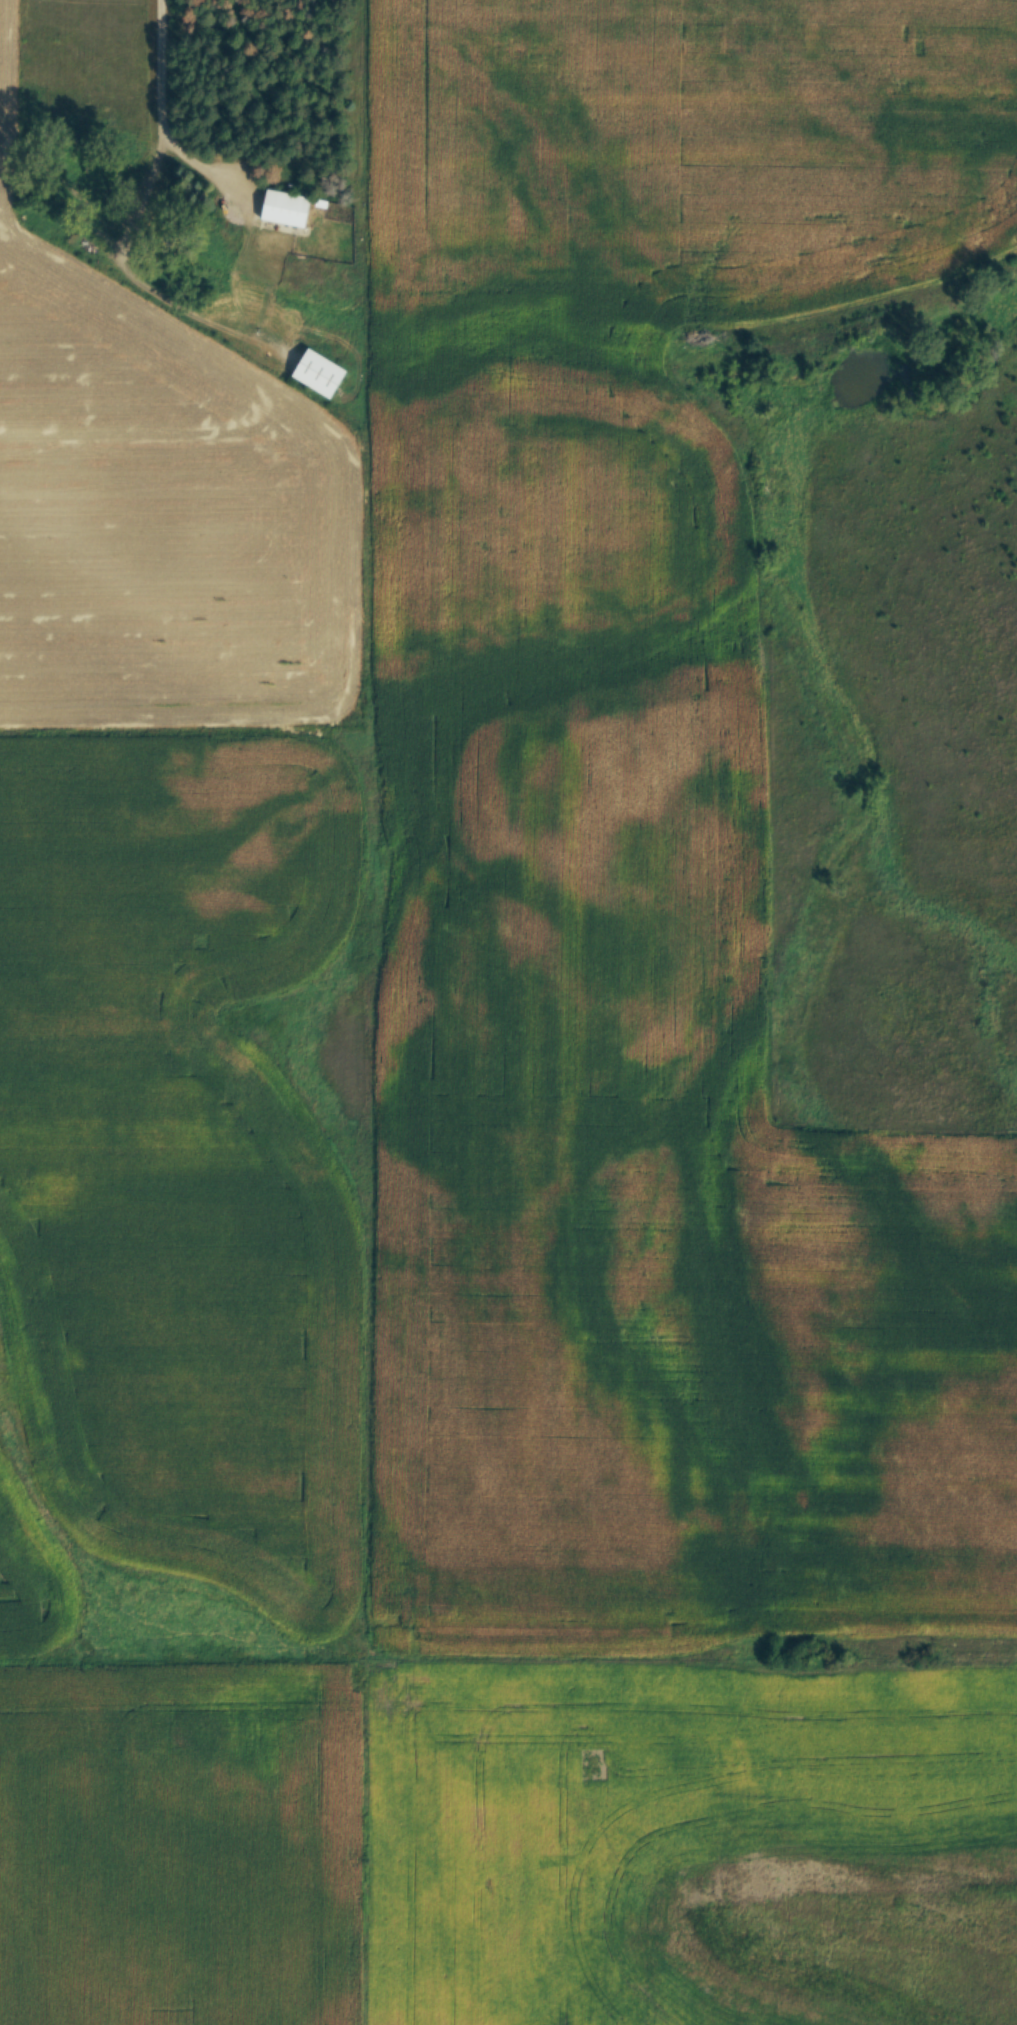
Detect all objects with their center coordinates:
road: (161, 120)
building: (285, 208)
building: (318, 373)

